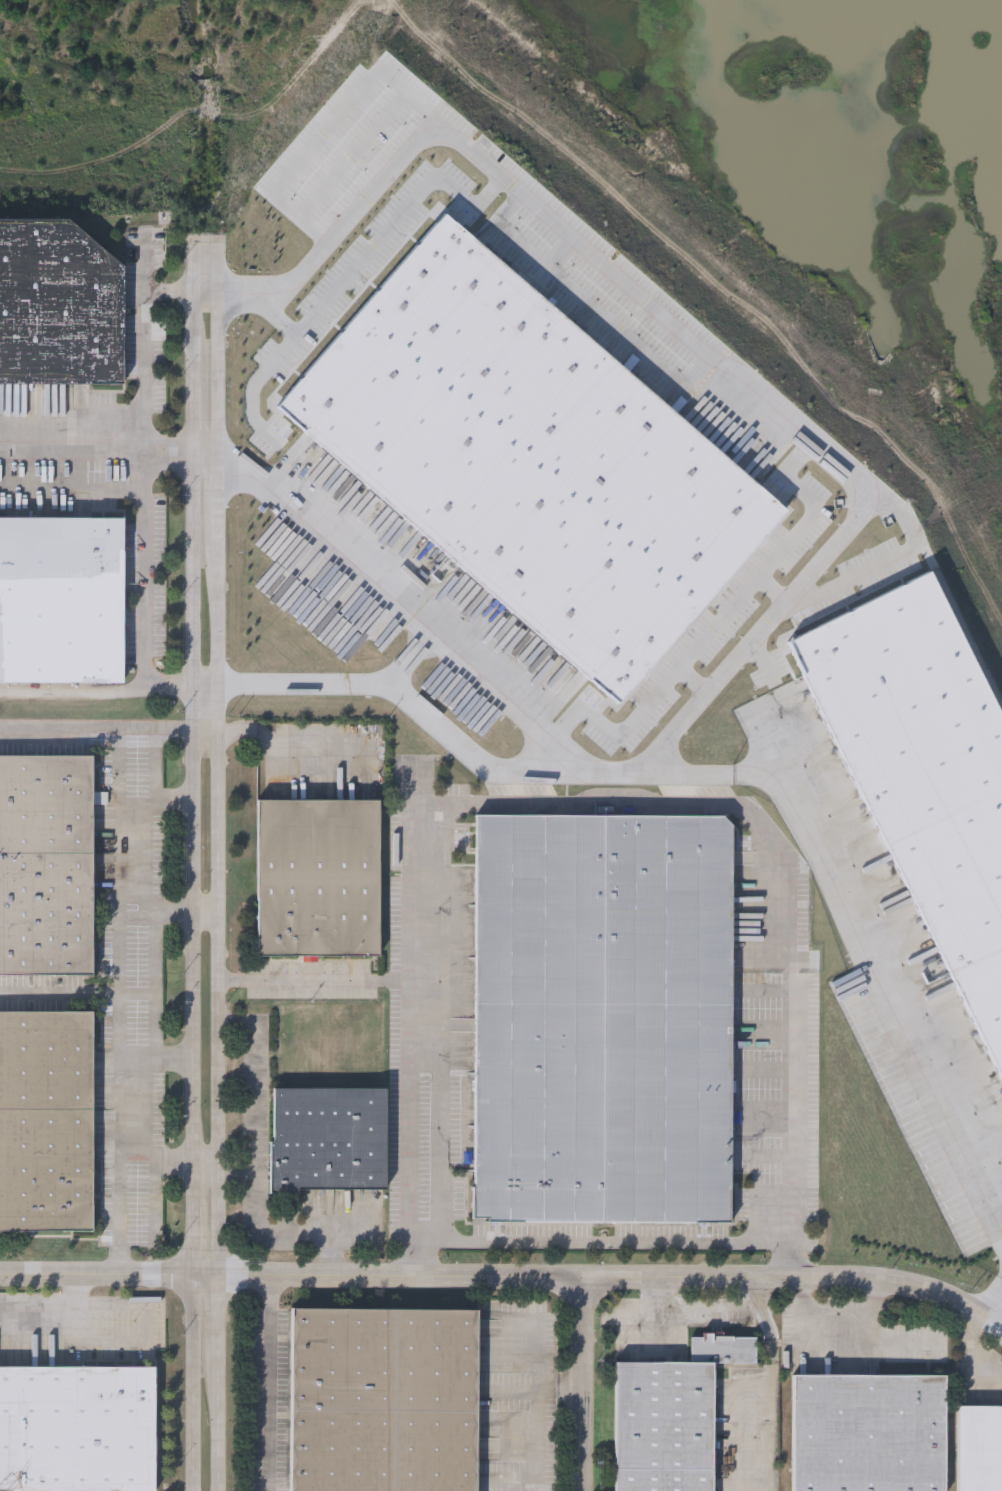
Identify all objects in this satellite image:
road: (336, 126)
road: (381, 238)
road: (171, 290)
building: (58, 308)
road: (679, 341)
road: (98, 452)
building: (523, 455)
road: (209, 458)
road: (143, 461)
building: (62, 599)
road: (771, 599)
road: (943, 610)
road: (718, 632)
road: (412, 661)
road: (207, 689)
road: (693, 690)
road: (98, 692)
road: (416, 702)
road: (97, 727)
road: (207, 734)
road: (294, 742)
road: (156, 764)
building: (921, 774)
road: (684, 779)
road: (157, 800)
road: (597, 804)
road: (218, 863)
building: (46, 866)
building: (316, 877)
road: (192, 883)
road: (154, 908)
road: (205, 909)
road: (314, 981)
road: (120, 1001)
building: (601, 1015)
road: (155, 1059)
road: (259, 1095)
building: (46, 1119)
building: (326, 1138)
road: (154, 1159)
road: (205, 1169)
road: (287, 1233)
road: (596, 1240)
road: (329, 1254)
road: (107, 1276)
road: (613, 1278)
road: (707, 1308)
road: (51, 1310)
road: (996, 1314)
road: (835, 1316)
road: (975, 1350)
road: (537, 1354)
road: (269, 1383)
road: (580, 1384)
road: (558, 1389)
building: (386, 1406)
building: (77, 1429)
building: (668, 1429)
building: (875, 1436)
road: (536, 1440)
building: (983, 1452)
road: (772, 1467)
road: (756, 1488)

